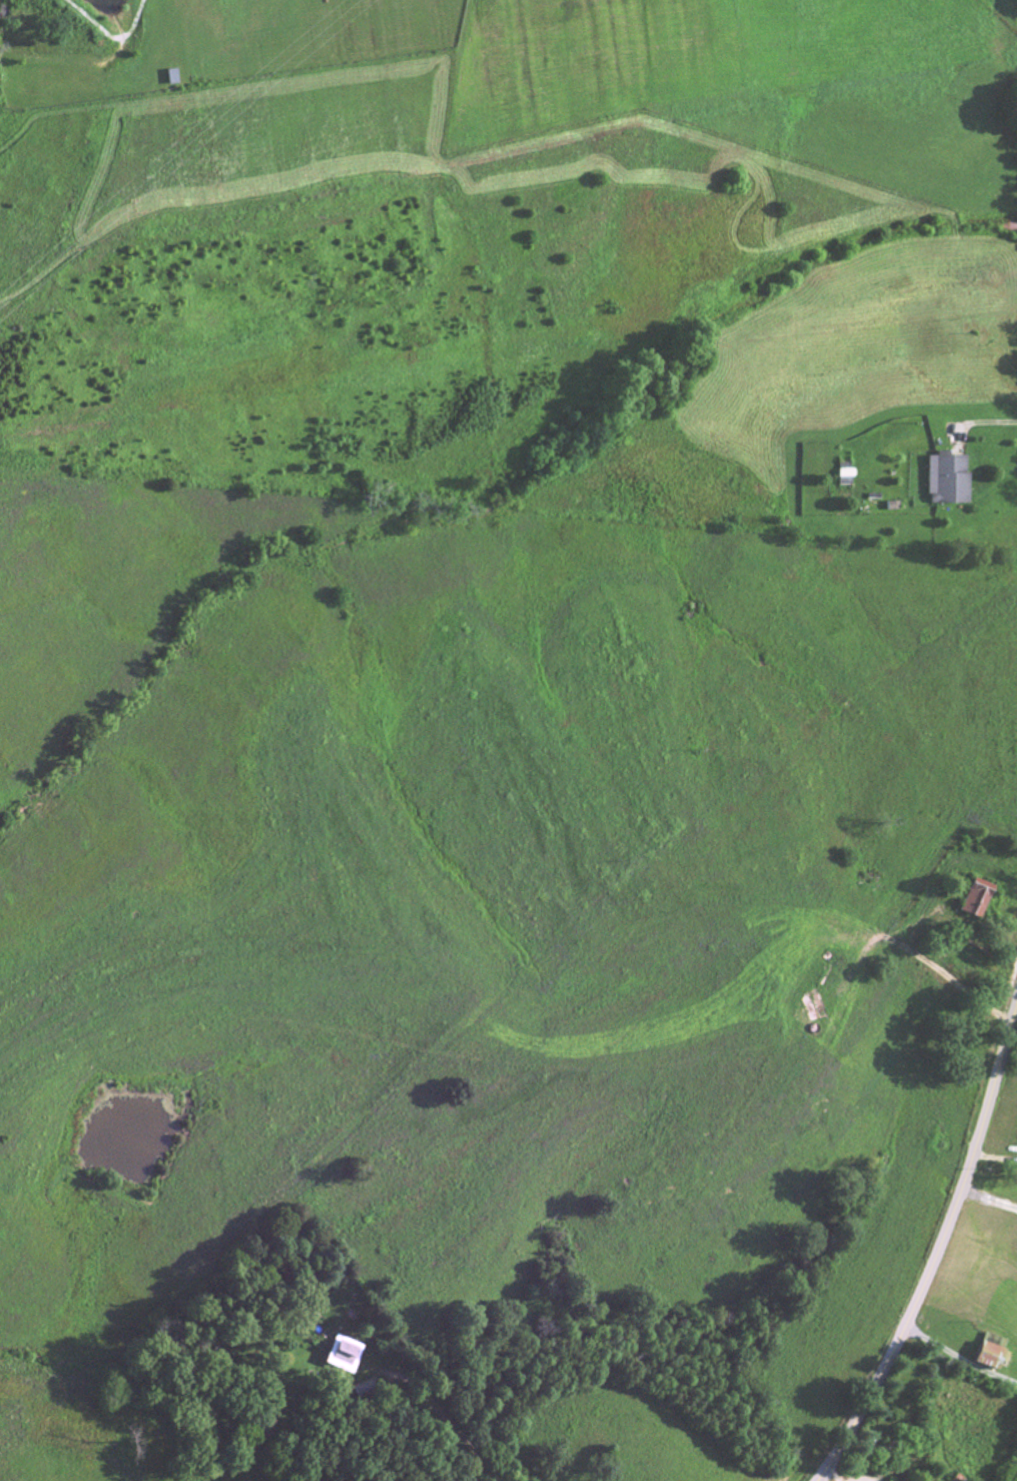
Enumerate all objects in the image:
road: (986, 423)
building: (948, 482)
building: (974, 900)
road: (989, 1202)
road: (936, 1253)
building: (344, 1357)
building: (983, 1358)
road: (958, 1360)
road: (444, 1423)

